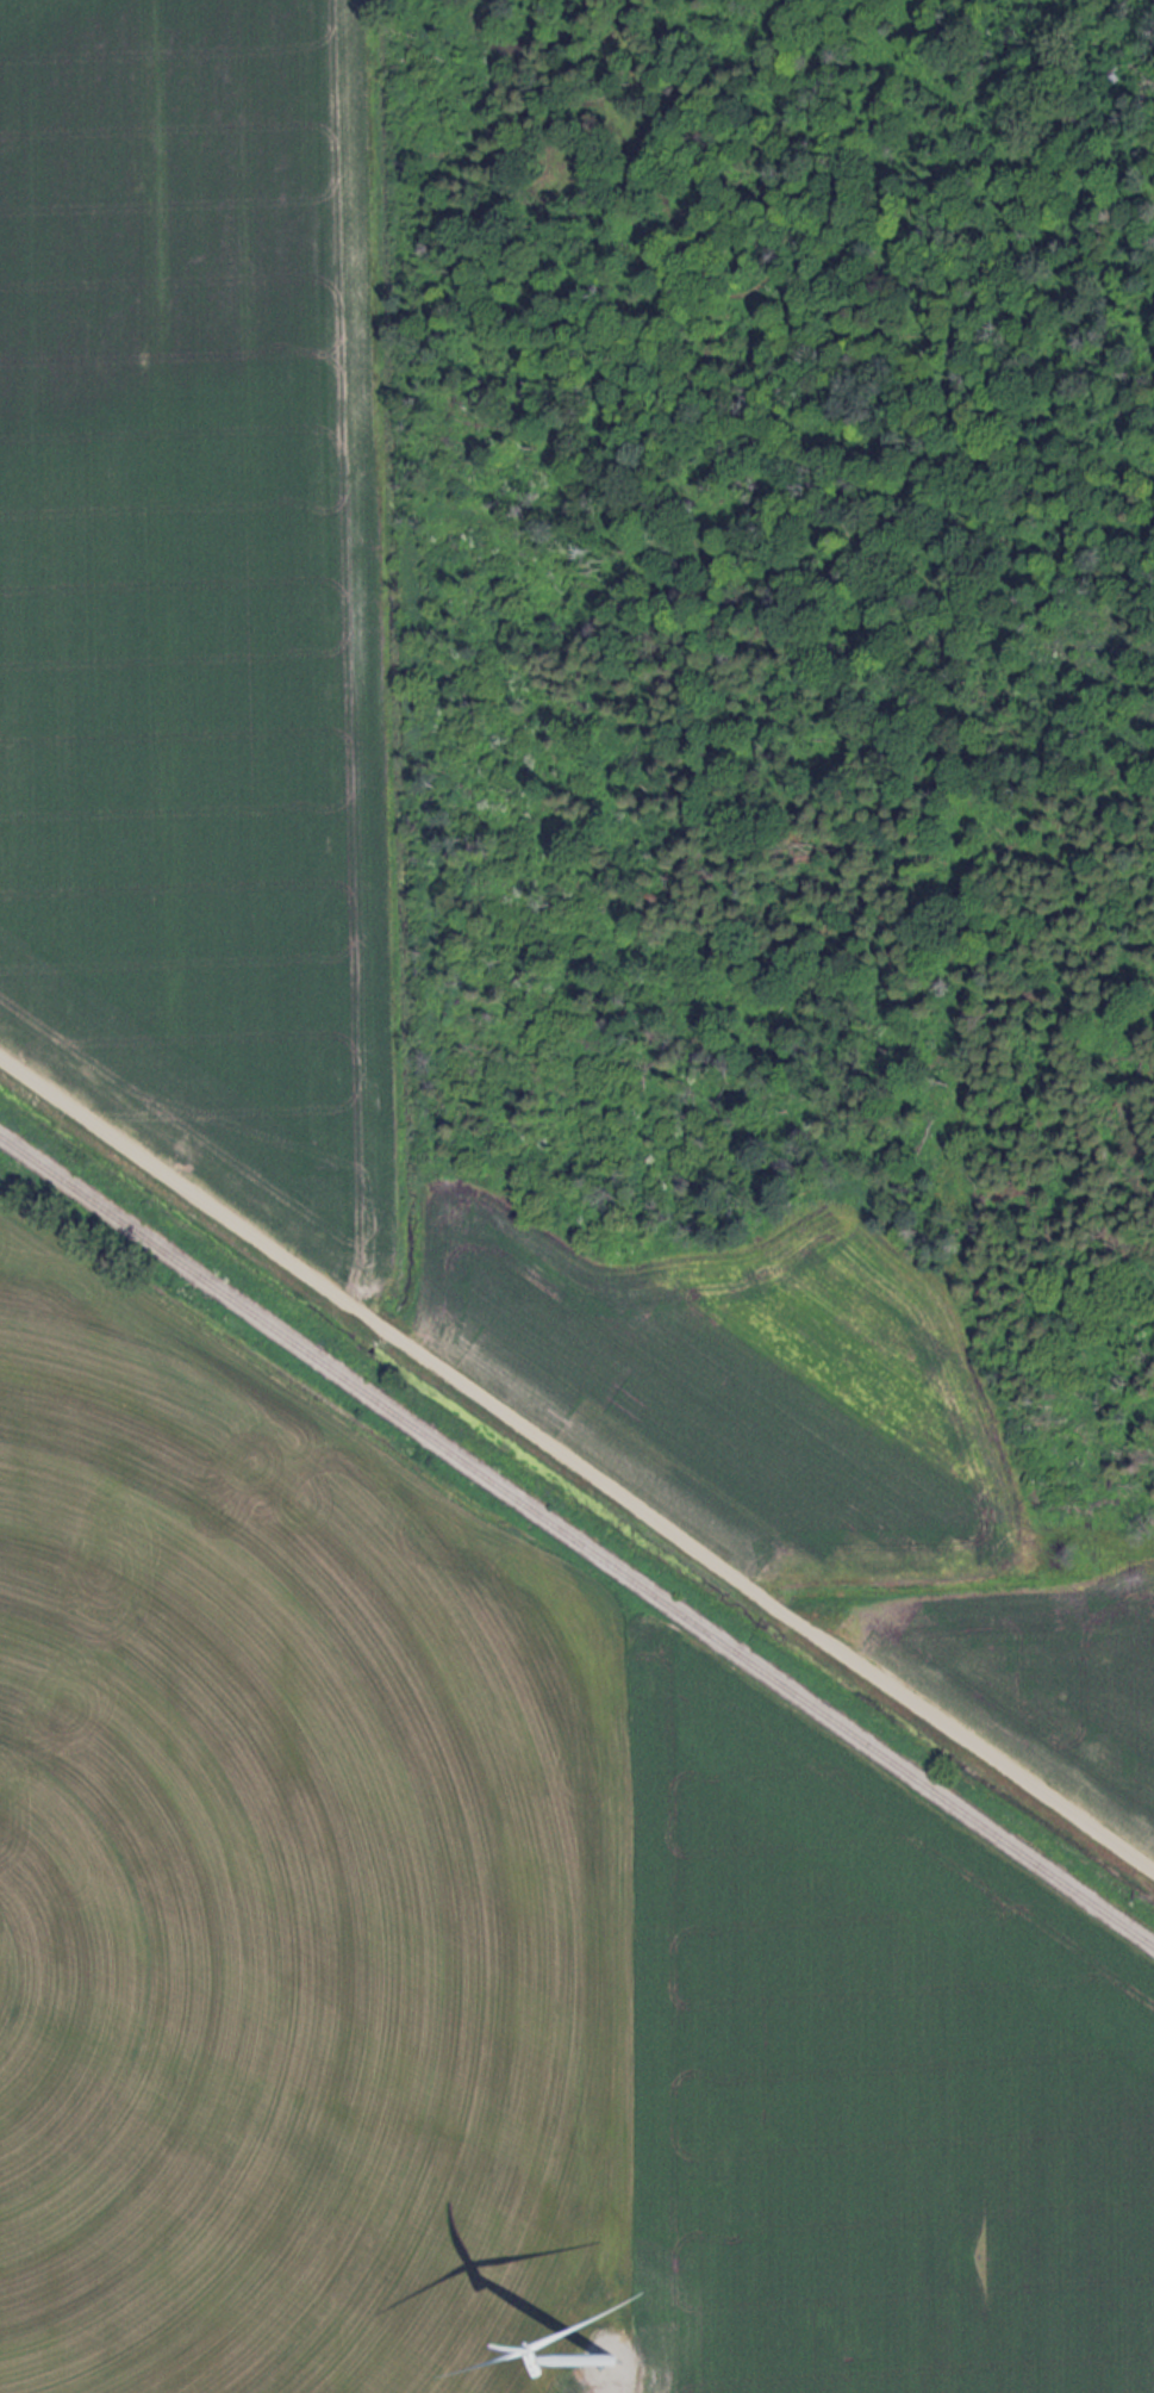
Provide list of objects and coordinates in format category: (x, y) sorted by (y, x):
road: (576, 1463)
railway: (576, 1542)
wind turbine: (609, 2348)

